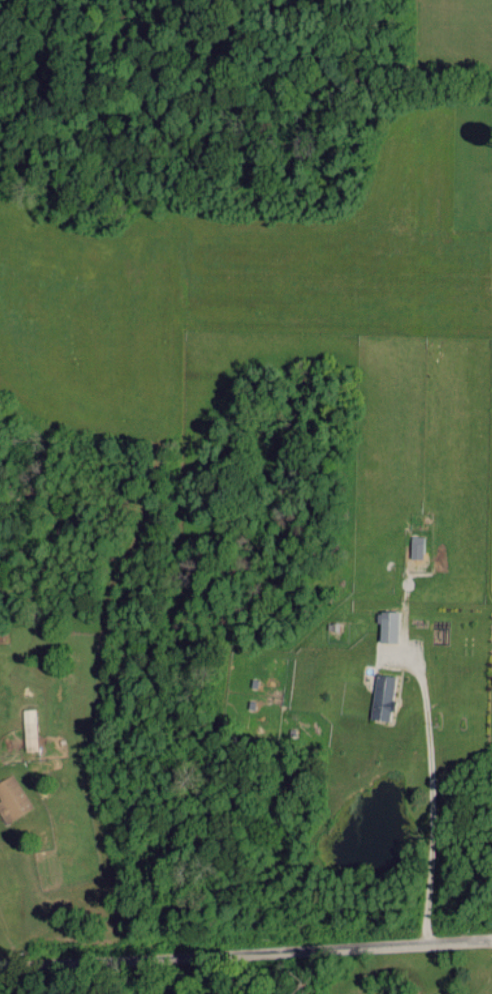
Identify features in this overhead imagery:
building: (415, 546)
building: (385, 625)
building: (381, 696)
building: (28, 729)
road: (431, 791)
building: (12, 798)
road: (245, 952)

